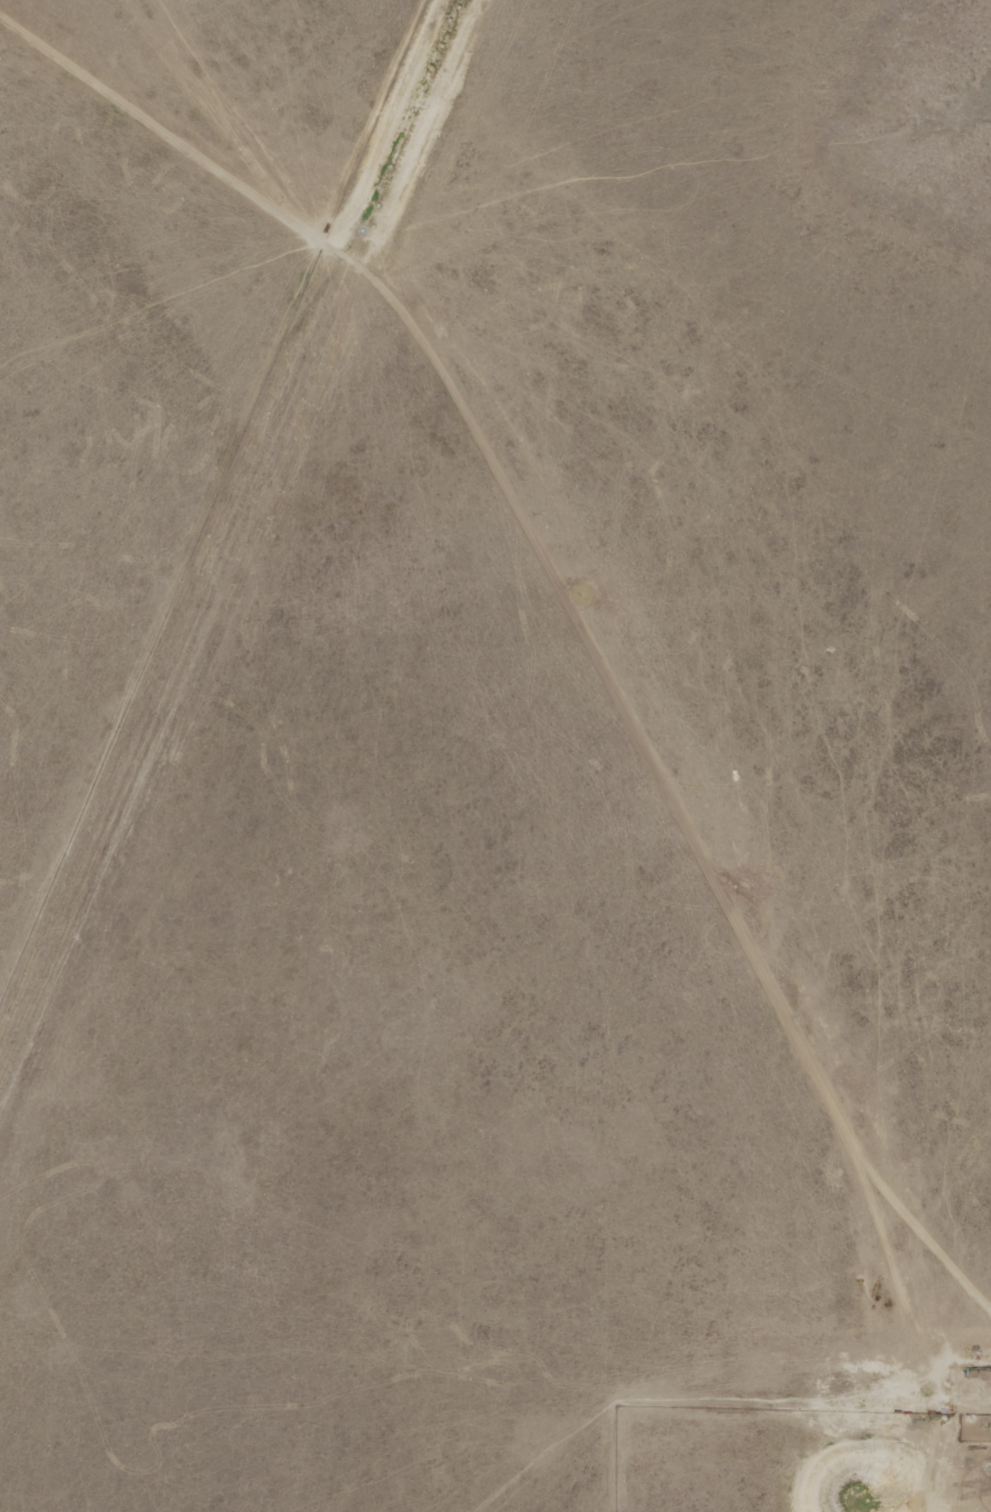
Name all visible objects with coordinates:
railway: (218, 517)
building: (979, 1373)

